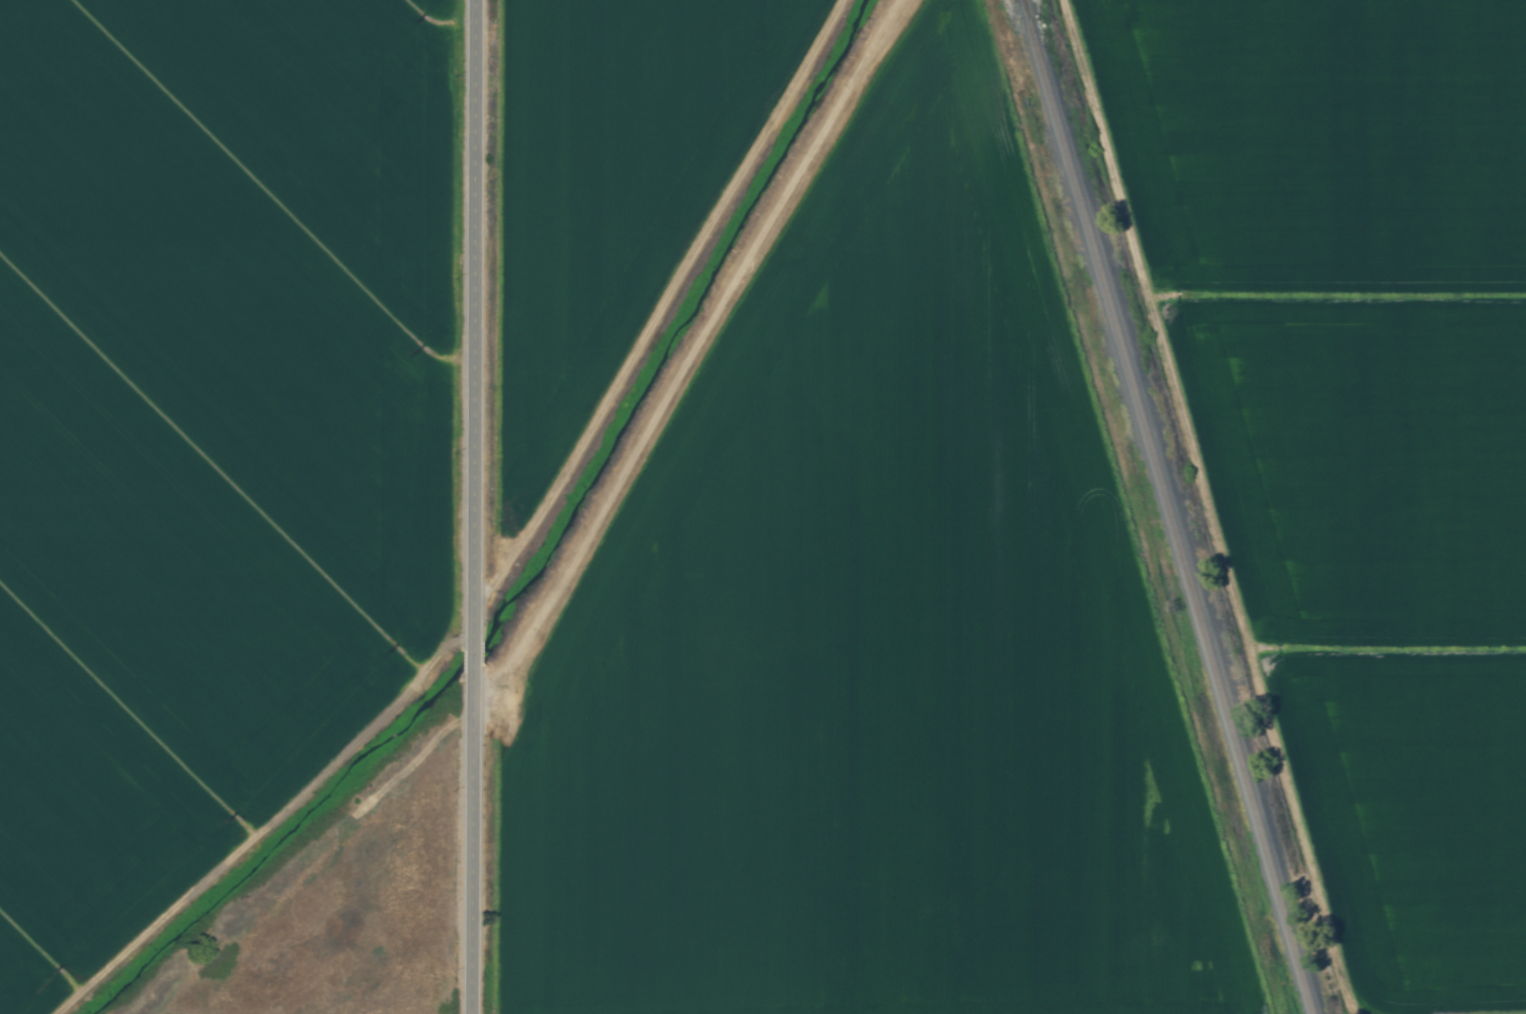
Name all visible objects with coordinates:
railway: (1166, 506)
road: (481, 507)

